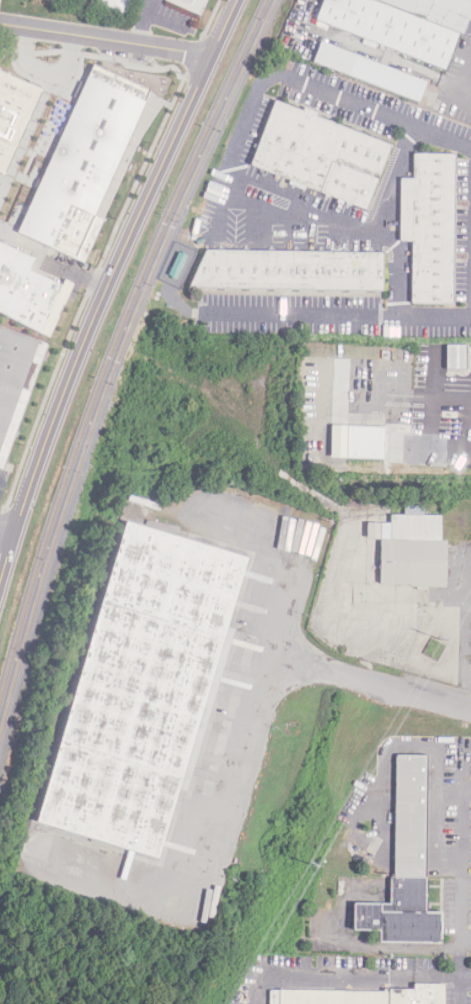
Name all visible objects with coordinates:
building: (115, 4)
building: (190, 4)
building: (402, 24)
road: (222, 28)
road: (105, 41)
road: (44, 72)
building: (368, 73)
road: (460, 83)
building: (12, 117)
building: (319, 155)
road: (234, 176)
road: (395, 176)
building: (72, 196)
building: (428, 225)
building: (288, 270)
road: (304, 312)
road: (96, 314)
railway: (113, 343)
building: (455, 357)
railway: (117, 359)
building: (15, 380)
road: (442, 389)
road: (384, 390)
road: (468, 422)
building: (365, 442)
building: (423, 449)
road: (6, 535)
building: (412, 548)
road: (288, 620)
building: (142, 690)
road: (253, 742)
road: (377, 789)
building: (402, 865)
road: (456, 897)
road: (463, 935)
road: (350, 975)
building: (359, 996)

